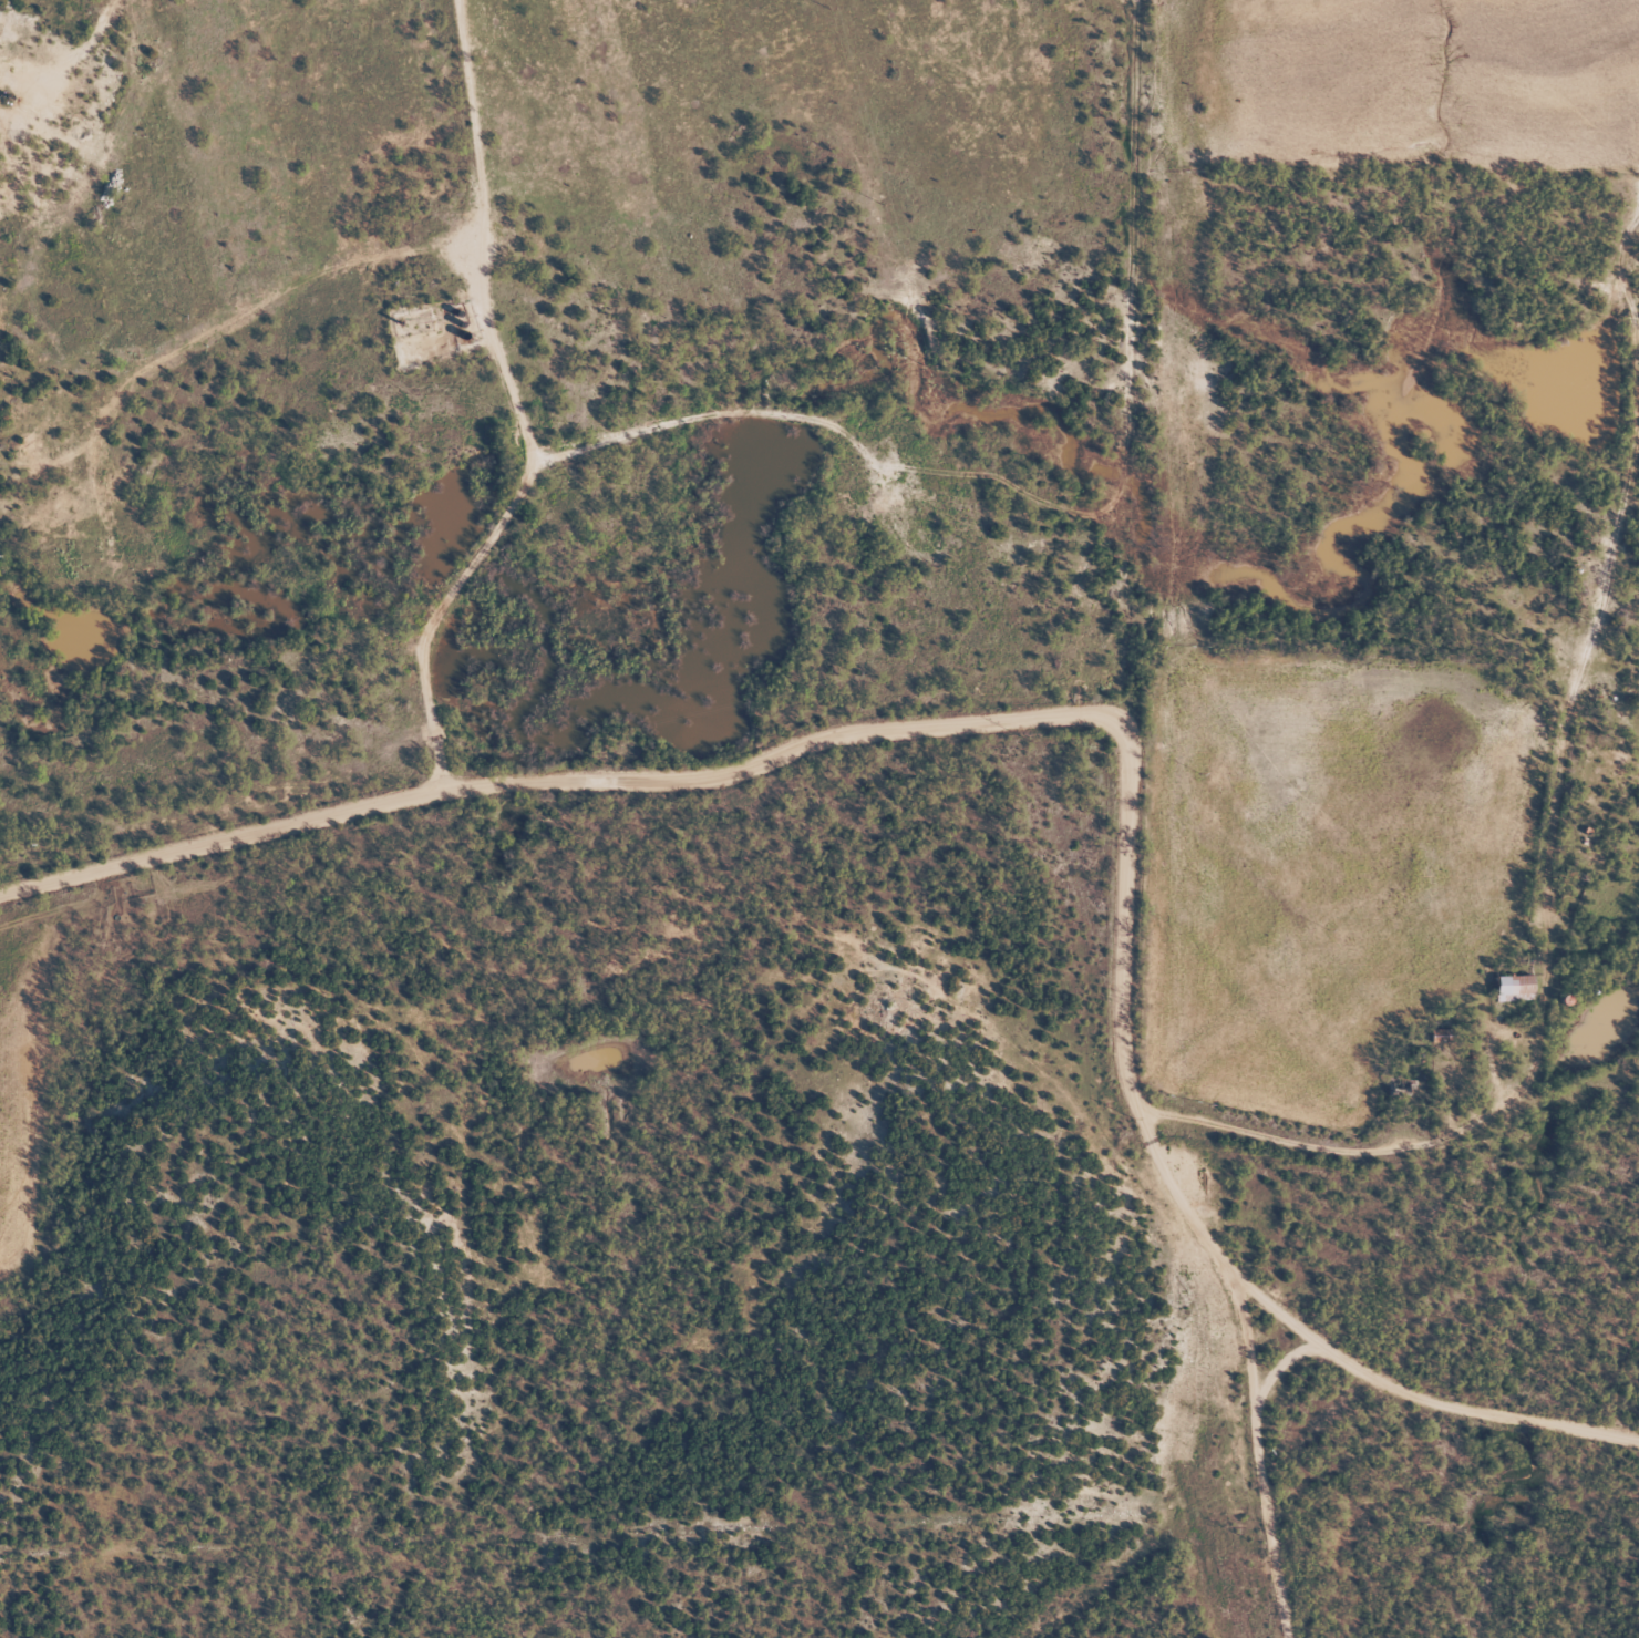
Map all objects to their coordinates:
petroleum well: (4, 94)
road: (1364, 217)
road: (767, 763)
road: (1581, 772)
building: (1518, 986)
road: (1396, 1147)
road: (1329, 1398)

